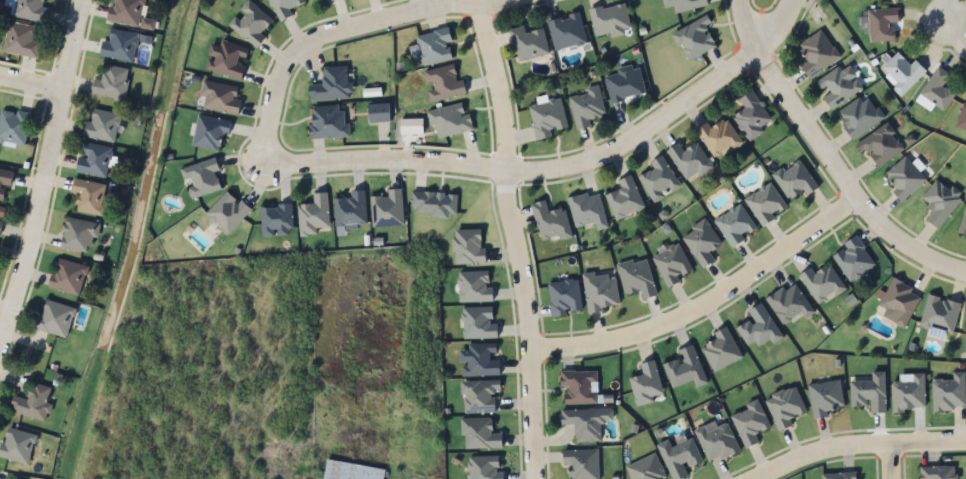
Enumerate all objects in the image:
building: (330, 0)
road: (471, 4)
building: (684, 4)
building: (284, 7)
building: (30, 10)
building: (129, 13)
building: (610, 20)
building: (250, 23)
building: (883, 24)
road: (956, 30)
building: (566, 32)
building: (694, 38)
building: (20, 40)
building: (528, 43)
building: (119, 45)
building: (434, 47)
building: (817, 53)
building: (226, 59)
building: (902, 73)
road: (30, 81)
building: (110, 82)
building: (332, 84)
building: (443, 84)
building: (624, 84)
building: (838, 86)
building: (938, 90)
building: (219, 98)
building: (586, 107)
building: (378, 113)
building: (751, 116)
building: (859, 116)
building: (962, 118)
building: (547, 119)
building: (449, 121)
building: (327, 122)
building: (101, 126)
building: (13, 127)
building: (209, 132)
building: (719, 138)
building: (881, 146)
building: (93, 159)
building: (689, 160)
road: (827, 160)
road: (421, 165)
road: (42, 168)
building: (201, 177)
building: (659, 179)
building: (794, 180)
building: (4, 184)
building: (88, 196)
building: (624, 198)
building: (940, 202)
building: (434, 203)
building: (766, 204)
building: (350, 209)
building: (387, 209)
building: (587, 210)
building: (227, 212)
building: (314, 214)
building: (2, 215)
building: (276, 219)
building: (550, 222)
building: (963, 222)
building: (735, 224)
building: (78, 235)
road: (509, 241)
building: (701, 242)
building: (468, 247)
building: (853, 259)
building: (672, 265)
building: (68, 277)
building: (637, 278)
building: (822, 284)
building: (474, 287)
building: (600, 291)
building: (564, 297)
building: (899, 303)
building: (789, 304)
road: (704, 307)
building: (940, 314)
building: (54, 319)
building: (479, 323)
building: (759, 329)
building: (721, 350)
building: (479, 360)
building: (685, 368)
building: (647, 383)
building: (579, 387)
building: (949, 392)
building: (869, 393)
building: (908, 394)
building: (478, 396)
building: (825, 398)
building: (32, 404)
building: (785, 407)
building: (584, 423)
building: (749, 423)
building: (479, 434)
building: (717, 442)
building: (16, 445)
road: (864, 446)
building: (679, 457)
road: (893, 462)
building: (581, 463)
building: (353, 467)
building: (484, 467)
building: (646, 468)
building: (937, 472)
building: (840, 476)

